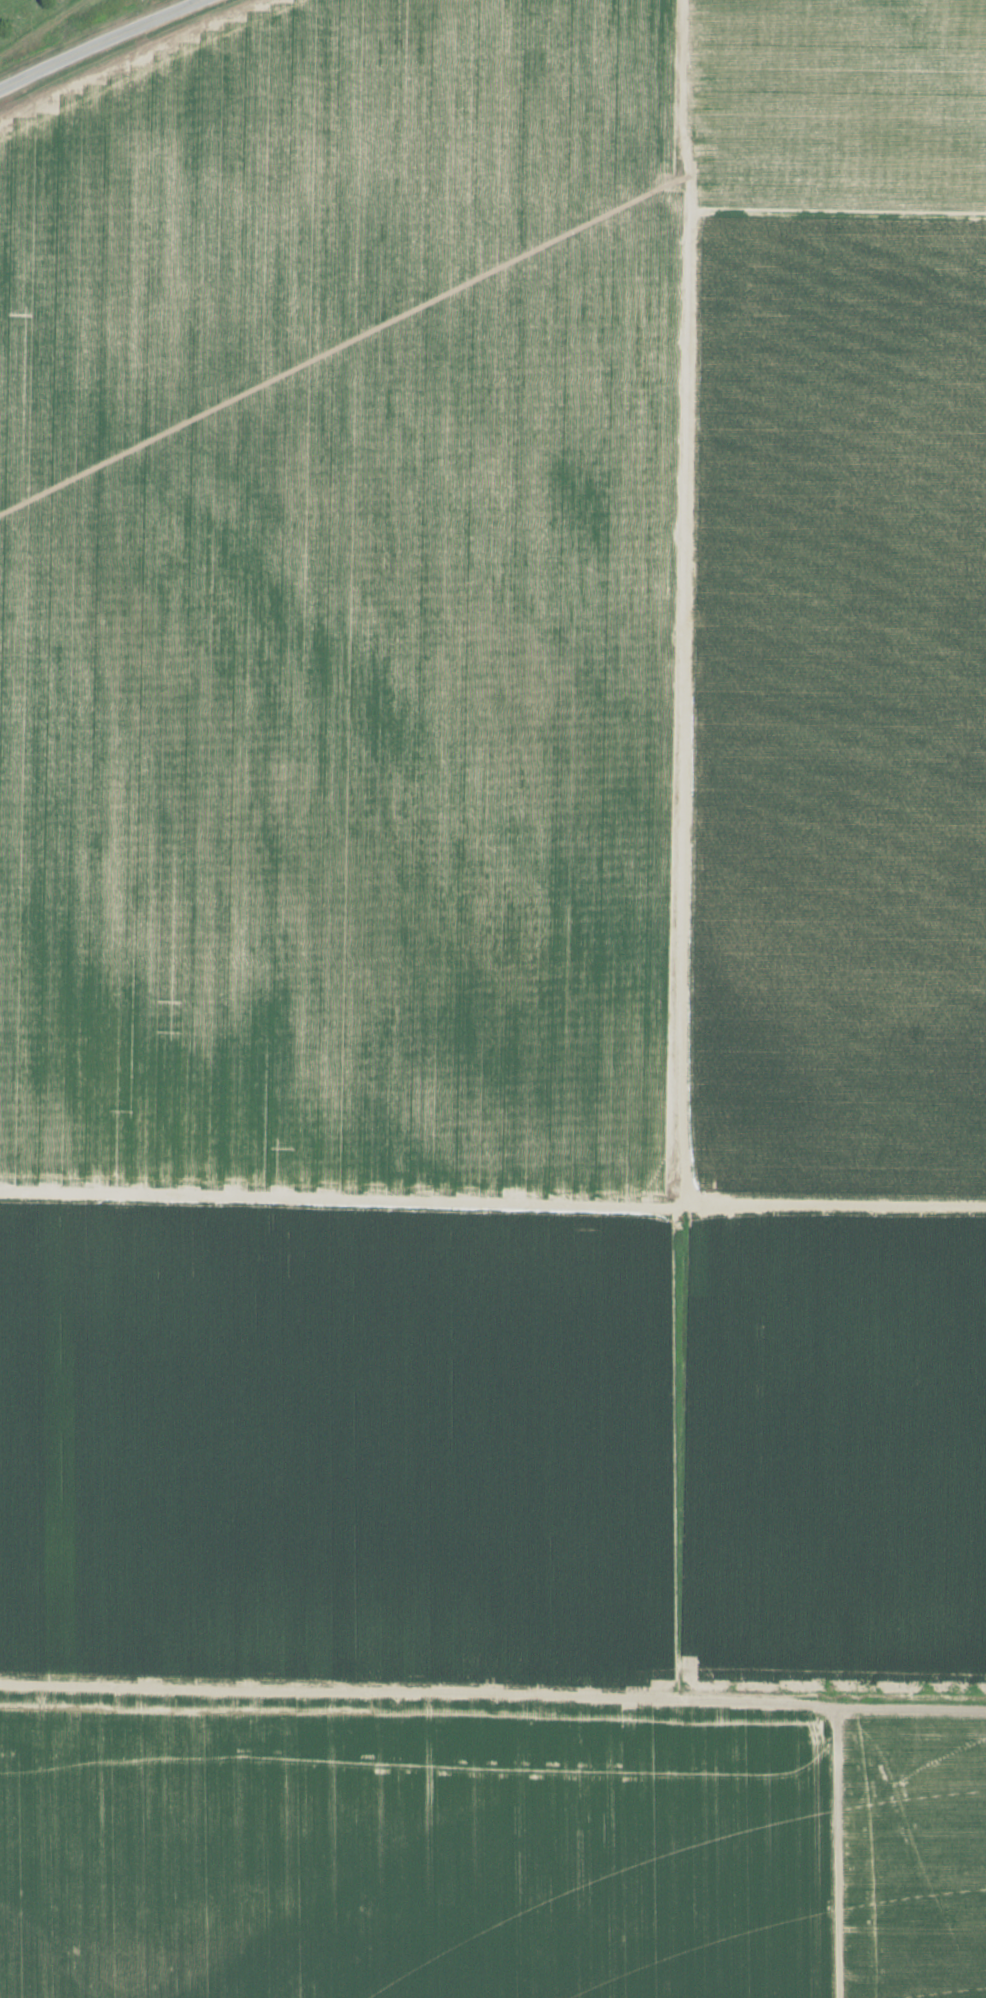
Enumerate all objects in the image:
road: (99, 43)
road: (686, 709)
road: (422, 1696)

